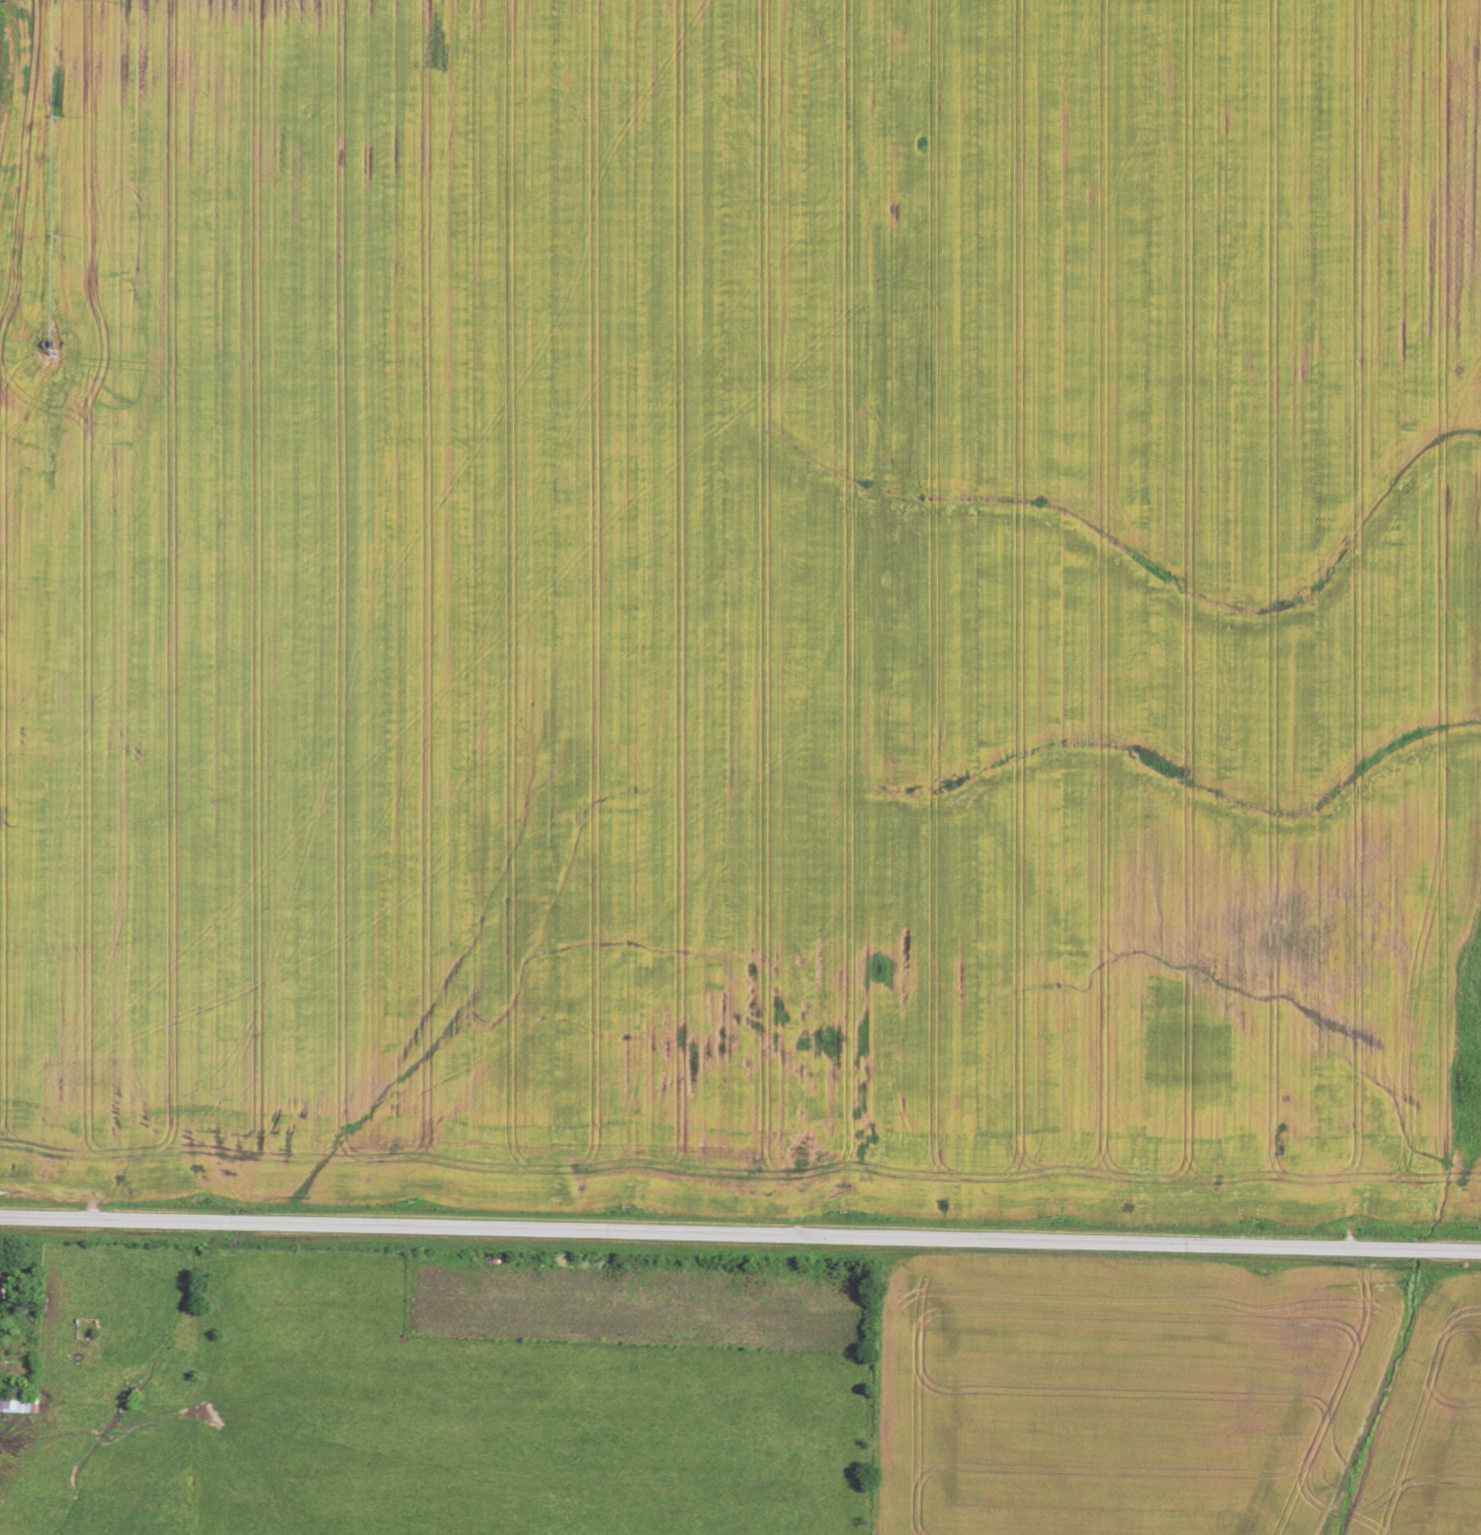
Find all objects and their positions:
road: (740, 1234)

